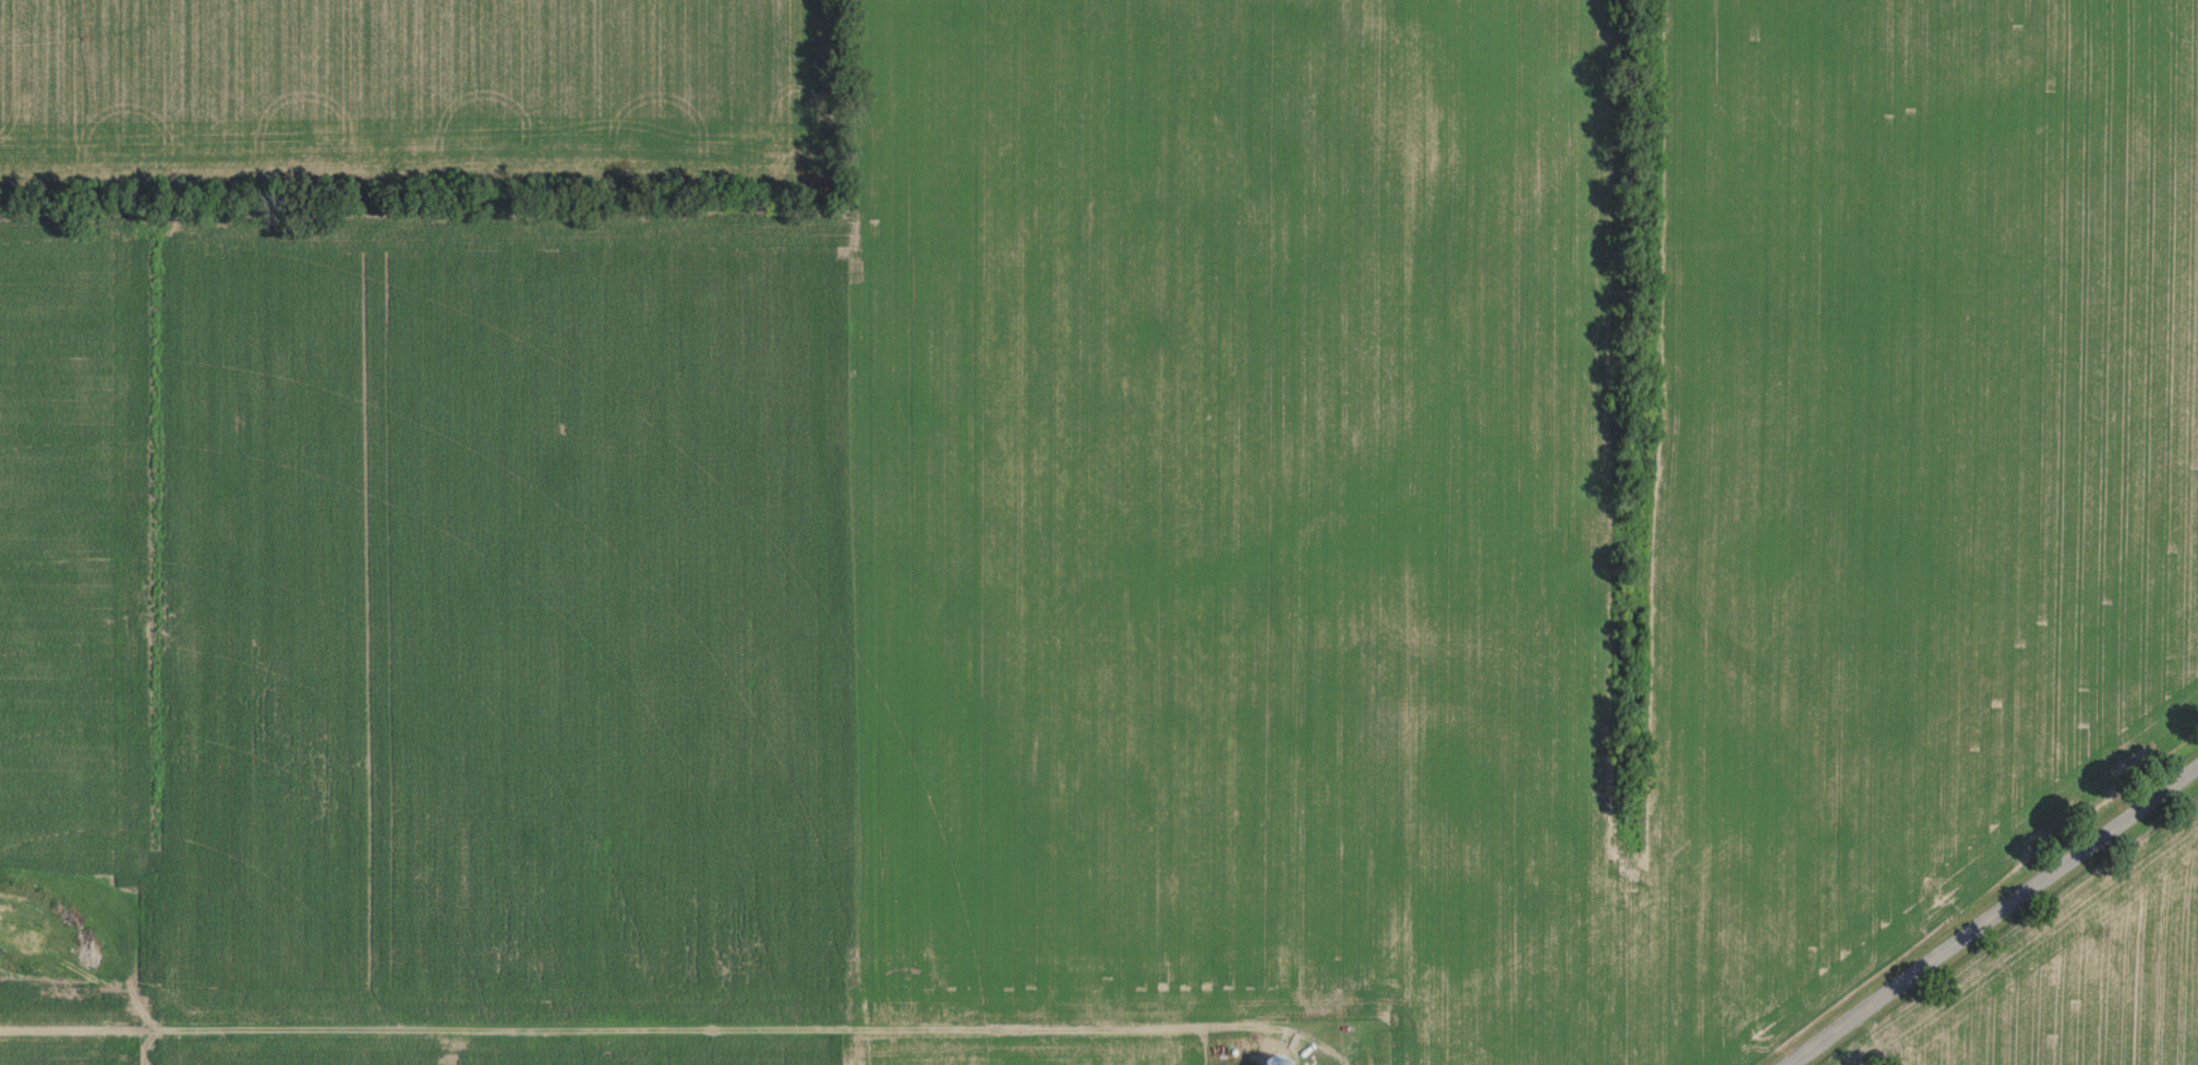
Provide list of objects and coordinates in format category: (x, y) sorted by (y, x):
road: (1992, 917)

